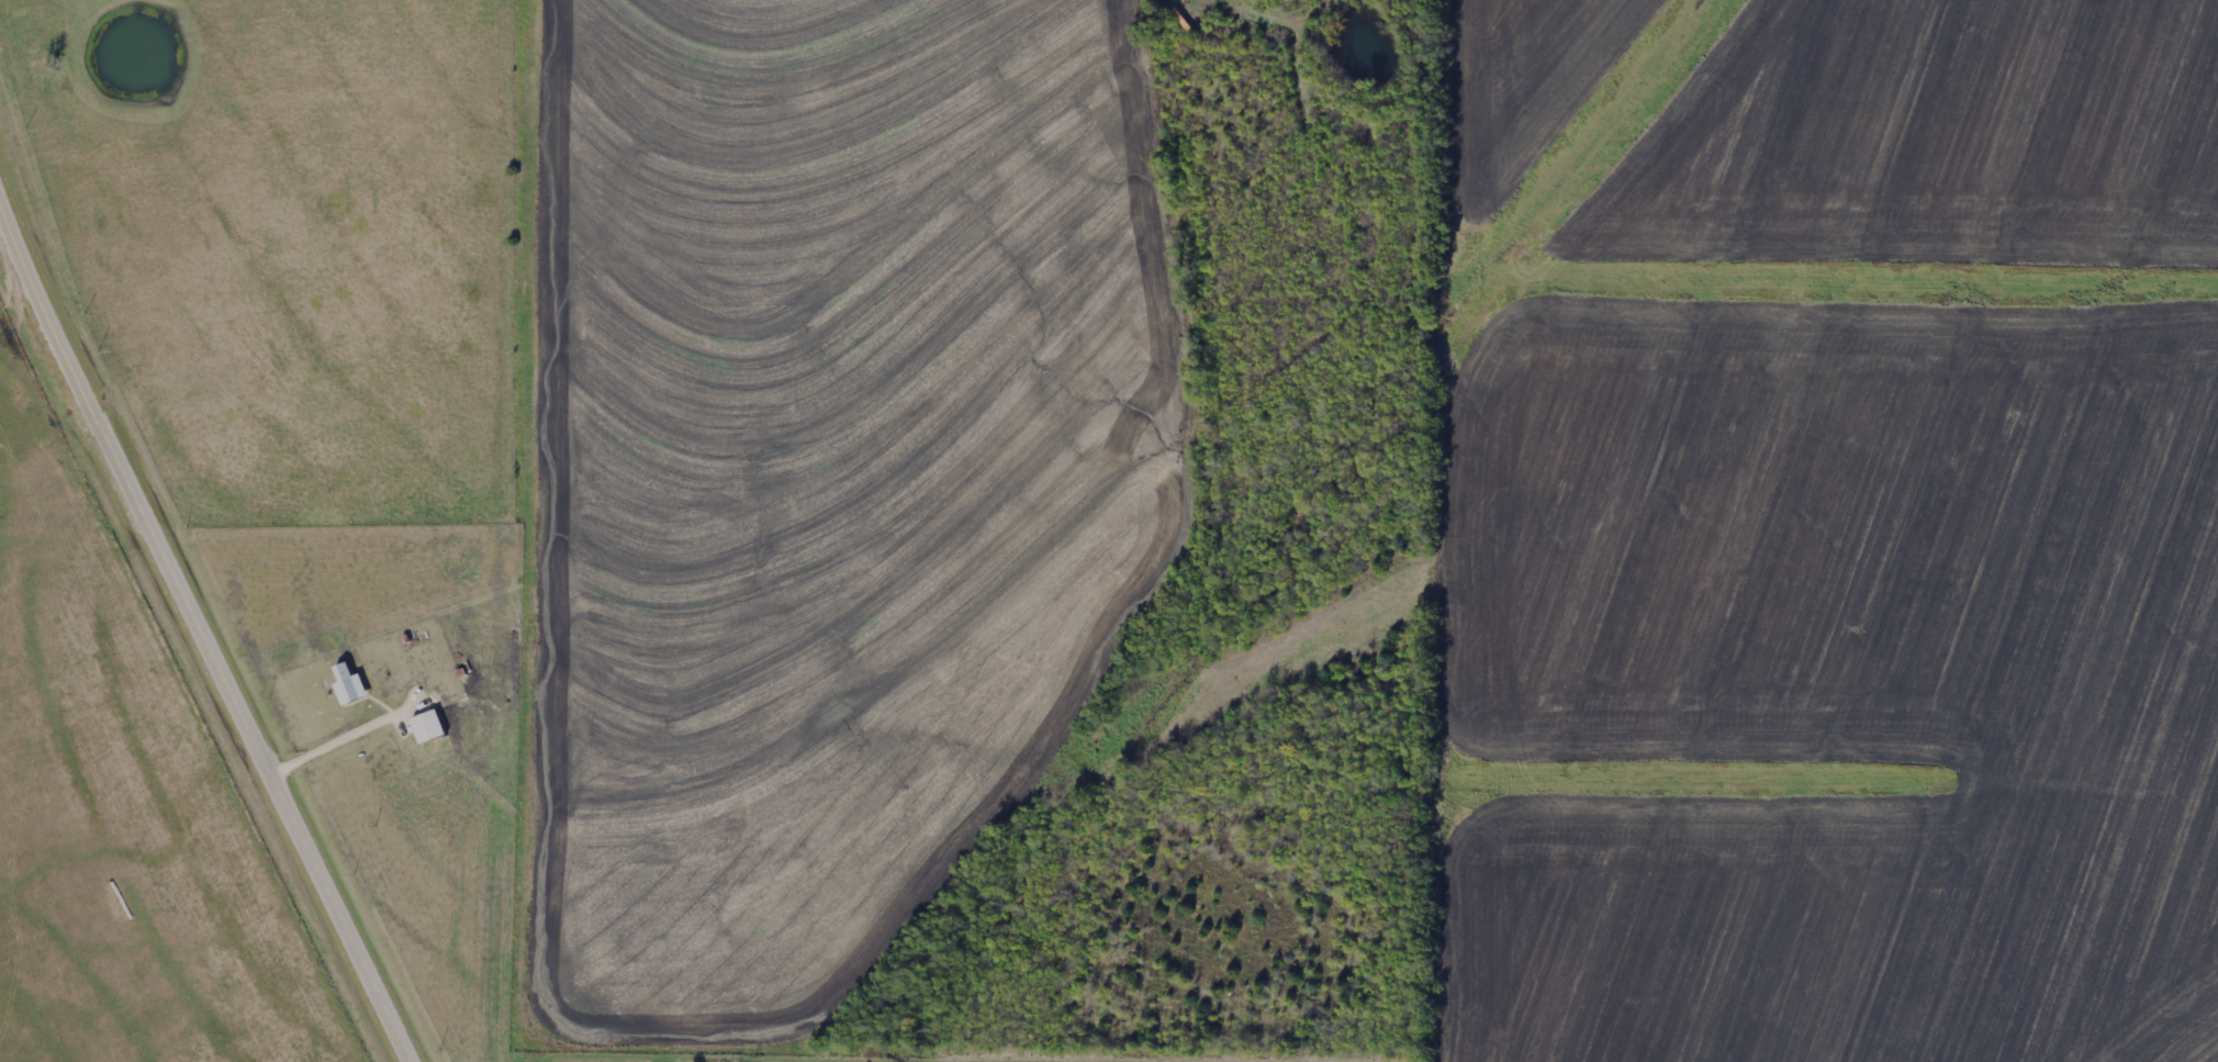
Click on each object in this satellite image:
road: (515, 530)
road: (198, 641)
building: (352, 686)
building: (433, 727)

